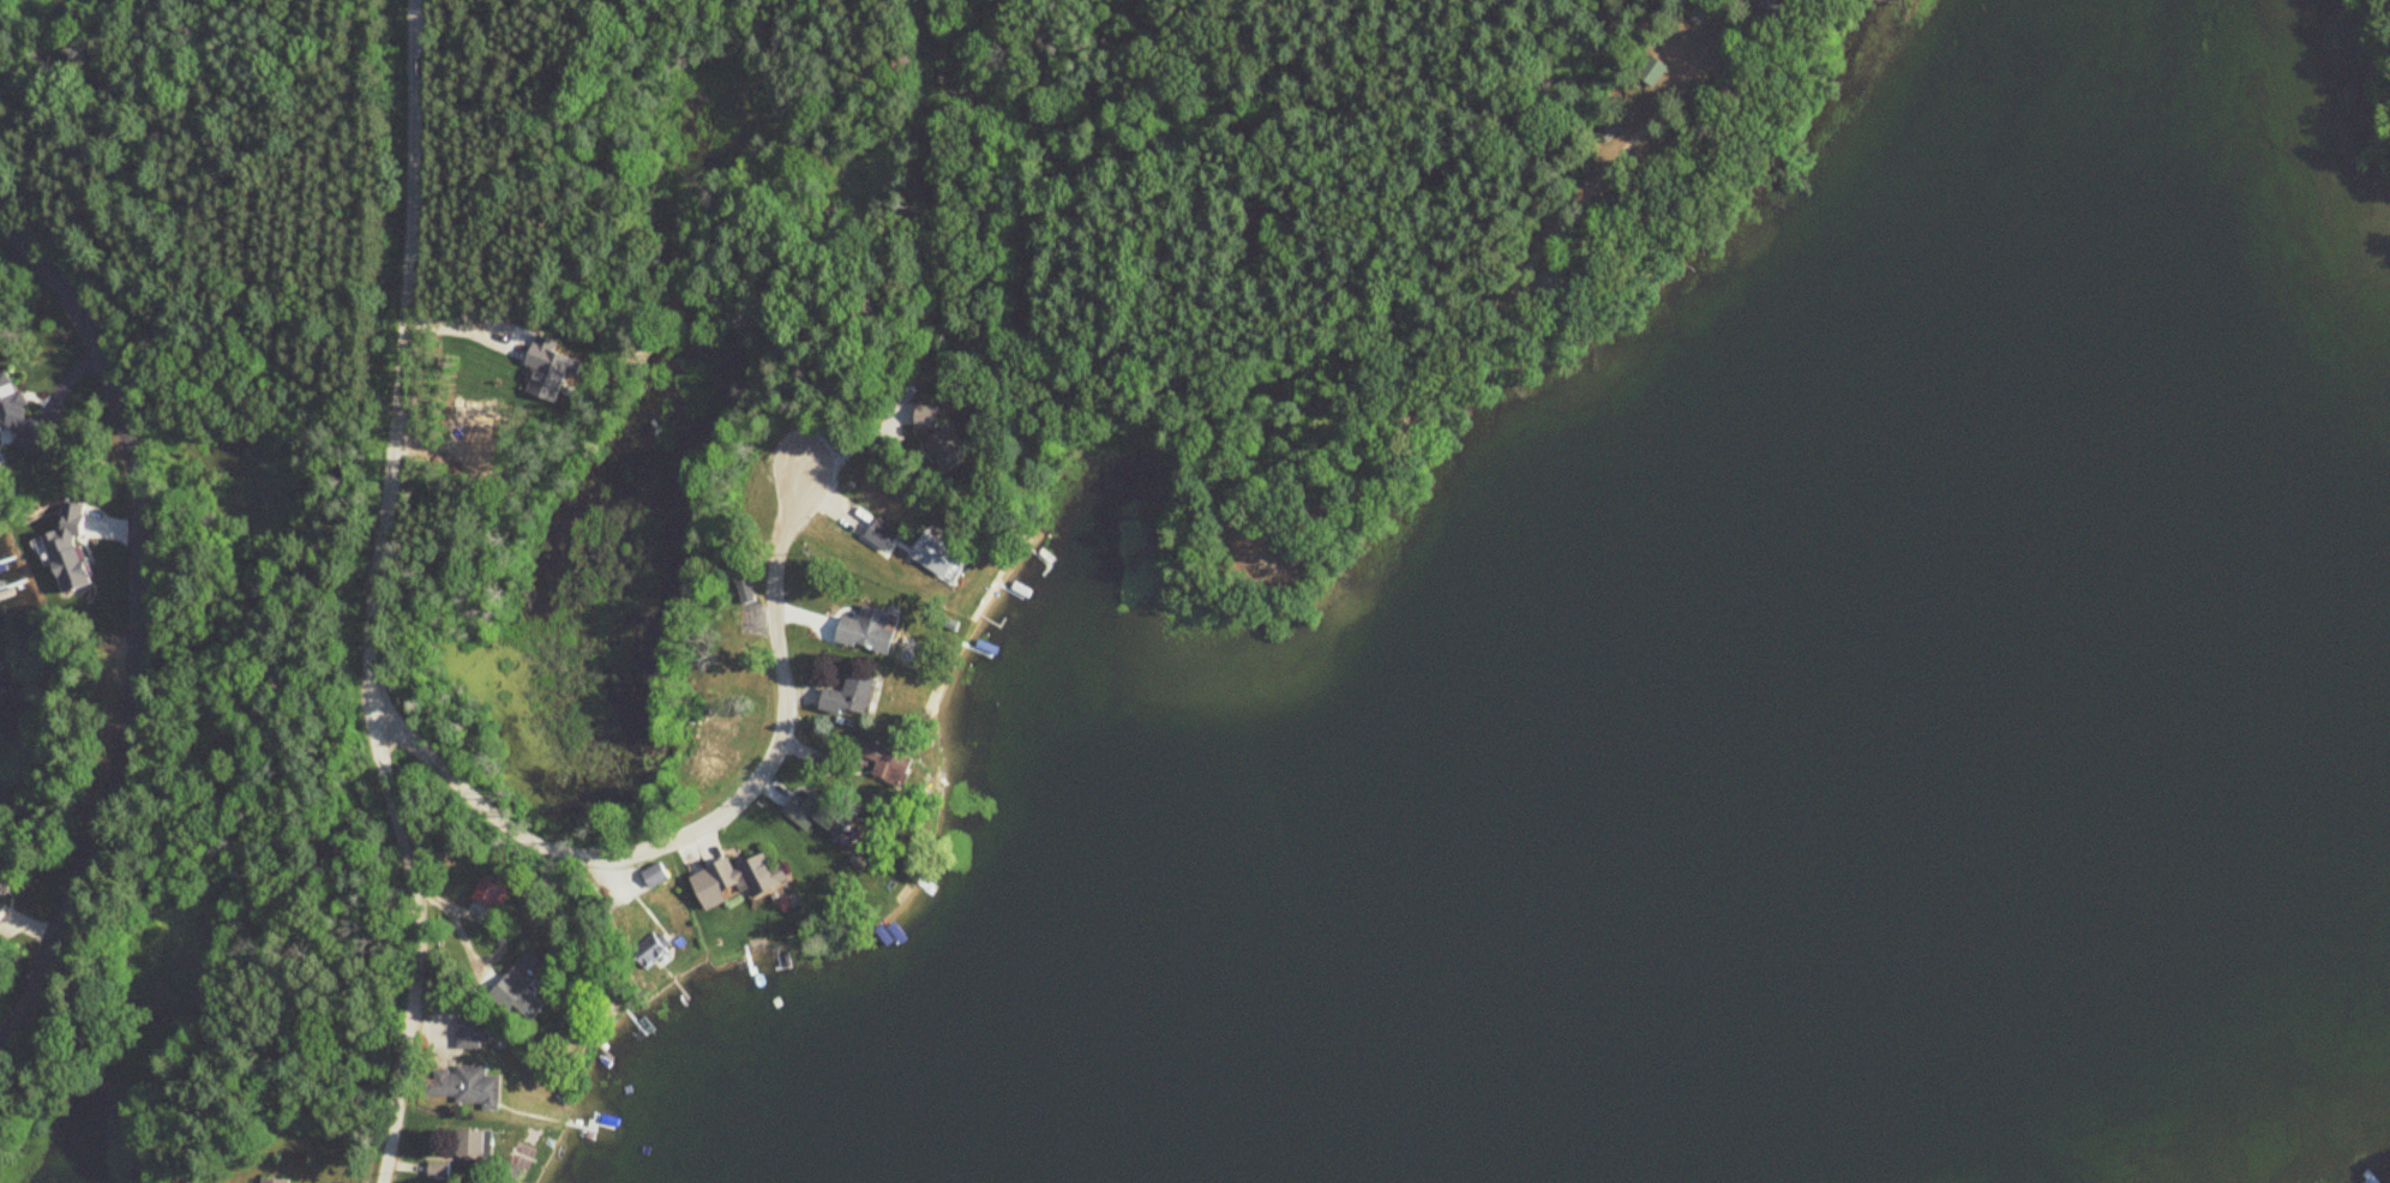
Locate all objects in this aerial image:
building: (1770, 10)
road: (1310, 62)
building: (1735, 79)
building: (1686, 143)
road: (1621, 152)
road: (1506, 161)
road: (932, 188)
building: (1626, 205)
road: (1554, 265)
road: (1499, 278)
building: (1554, 282)
building: (881, 536)
building: (1293, 552)
building: (931, 554)
road: (377, 595)
road: (138, 624)
building: (871, 632)
building: (852, 697)
building: (888, 765)
building: (822, 813)
road: (697, 825)
building: (655, 876)
building: (749, 877)
building: (6, 890)
building: (655, 957)
building: (520, 981)
building: (474, 1035)
building: (466, 1087)
building: (475, 1146)
building: (274, 1181)

